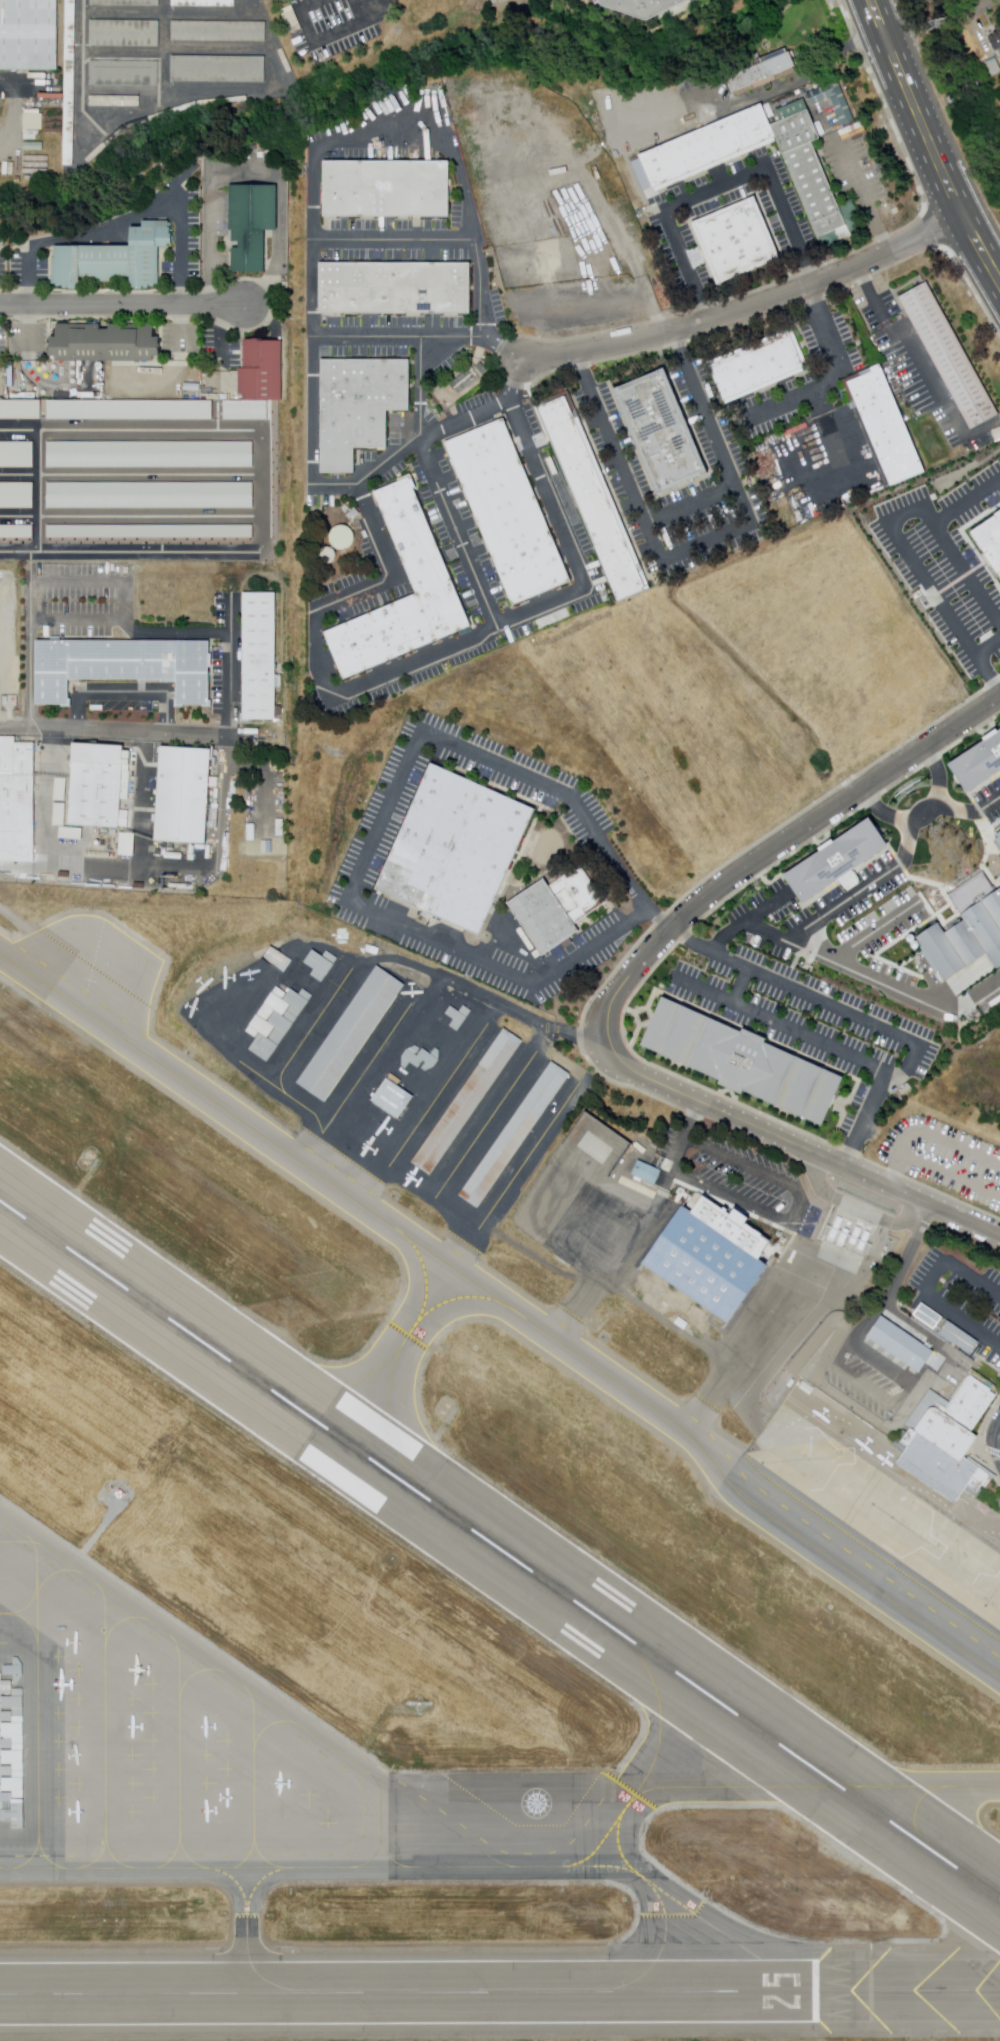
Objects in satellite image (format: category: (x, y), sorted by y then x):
building: (126, 2)
building: (205, 3)
building: (642, 5)
road: (967, 10)
road: (933, 25)
parking lot: (329, 27)
building: (219, 32)
building: (125, 34)
building: (28, 36)
road: (904, 37)
building: (995, 42)
building: (994, 67)
building: (219, 69)
building: (760, 72)
building: (124, 75)
building: (69, 81)
building: (648, 105)
building: (838, 107)
building: (798, 128)
building: (850, 133)
road: (931, 140)
building: (706, 142)
building: (74, 149)
building: (817, 187)
building: (388, 188)
road: (785, 216)
road: (118, 223)
building: (251, 225)
building: (737, 239)
road: (329, 246)
building: (113, 258)
building: (395, 287)
road: (122, 306)
road: (750, 308)
road: (275, 316)
building: (103, 343)
building: (949, 356)
road: (923, 363)
building: (757, 366)
building: (264, 367)
road: (418, 387)
building: (360, 405)
building: (21, 411)
building: (129, 411)
building: (887, 424)
building: (660, 432)
road: (309, 434)
road: (837, 443)
building: (16, 455)
building: (151, 455)
building: (150, 495)
building: (16, 496)
building: (592, 497)
road: (966, 500)
road: (687, 505)
building: (508, 513)
building: (16, 532)
building: (150, 532)
road: (894, 533)
road: (457, 535)
building: (343, 536)
building: (990, 538)
road: (694, 544)
building: (328, 555)
building: (421, 555)
parking lot: (945, 563)
building: (606, 599)
road: (986, 645)
building: (260, 654)
building: (122, 664)
road: (365, 692)
road: (118, 731)
building: (979, 765)
building: (96, 781)
building: (184, 792)
building: (17, 798)
road: (850, 800)
parking lot: (989, 801)
road: (922, 813)
road: (968, 813)
road: (383, 817)
building: (999, 835)
building: (456, 850)
building: (833, 861)
parking lot: (346, 869)
road: (859, 890)
building: (556, 910)
road: (745, 920)
road: (15, 922)
road: (866, 935)
building: (967, 938)
airport apron: (97, 963)
airport hangar: (306, 970)
building: (306, 970)
road: (845, 970)
parking lot: (808, 984)
road: (737, 988)
road: (475, 995)
road: (974, 997)
airport hangar: (458, 1016)
building: (458, 1016)
airport hangar: (273, 1022)
building: (273, 1022)
airport hangar: (349, 1034)
building: (349, 1034)
airport hangar: (428, 1044)
building: (428, 1044)
road: (914, 1051)
building: (738, 1062)
airport apron: (389, 1075)
airport hangar: (390, 1098)
building: (390, 1098)
airport hangar: (468, 1102)
building: (468, 1102)
road: (716, 1110)
road: (858, 1119)
airport hangar: (516, 1135)
building: (516, 1135)
building: (615, 1156)
building: (647, 1170)
airport apron: (589, 1219)
building: (846, 1227)
storage tank: (846, 1227)
building: (703, 1260)
airport taxiway: (424, 1276)
road: (925, 1285)
airport taxiway: (460, 1296)
parking lot: (959, 1298)
airport taxiway: (508, 1305)
building: (945, 1327)
airport apron: (757, 1333)
airport taxiway: (406, 1334)
building: (901, 1343)
airport taxiway: (340, 1385)
airport taxiway: (388, 1427)
airport terminal: (949, 1443)
building: (949, 1443)
road: (995, 1447)
airport apron: (882, 1500)
airport: (467, 1523)
airport runway: (500, 1549)
airport taxiway: (238, 1684)
airport taxiway: (657, 1721)
airport apron: (142, 1740)
airport hangar: (9, 1744)
building: (9, 1744)
airport taxiway: (816, 1784)
airport apron: (512, 1801)
airport taxiway: (379, 1821)
airport taxiway: (596, 1849)
airport taxiway: (618, 1852)
airport taxiway: (495, 1862)
airport taxiway: (277, 1867)
airport taxiway: (598, 1867)
airport taxiway: (229, 1880)
airport taxiway: (721, 1930)
airport taxiway: (244, 1933)
airport taxiway: (659, 1945)
airport taxiway: (236, 1975)
airport runway: (406, 1990)

